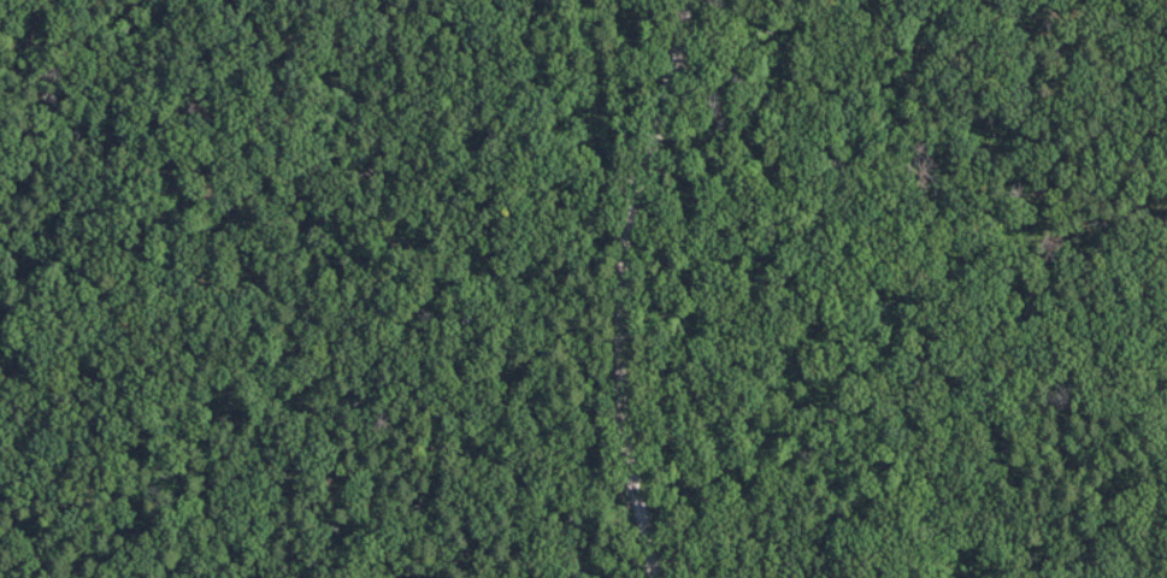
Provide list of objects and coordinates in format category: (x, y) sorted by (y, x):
road: (1071, 235)
road: (621, 287)

